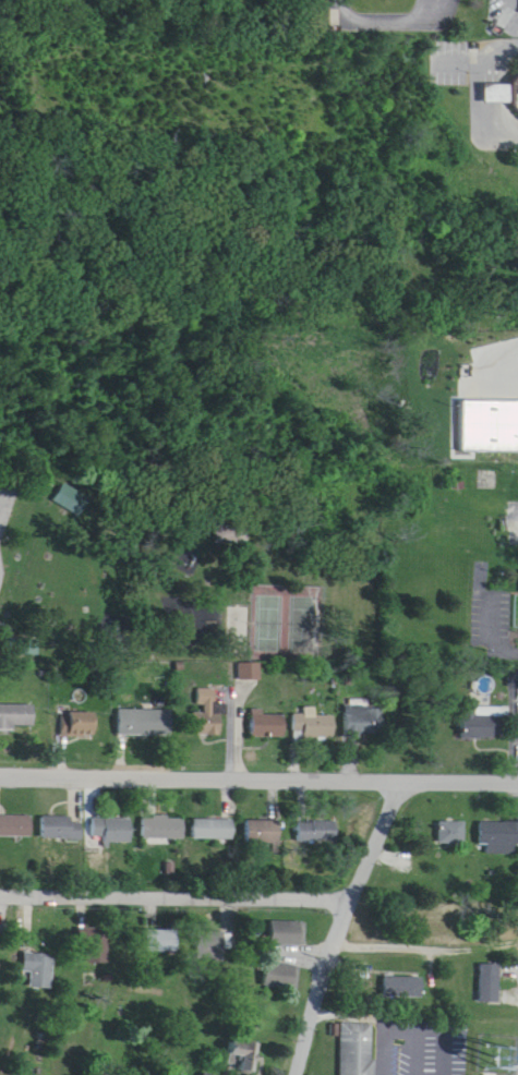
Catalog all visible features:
road: (482, 93)
building: (502, 96)
road: (505, 367)
park: (193, 394)
park: (7, 492)
park: (287, 612)
park: (238, 616)
building: (22, 631)
park: (22, 631)
road: (494, 632)
building: (17, 716)
building: (146, 723)
building: (207, 723)
building: (368, 723)
building: (483, 723)
building: (80, 725)
building: (268, 726)
building: (313, 726)
road: (258, 769)
building: (16, 828)
building: (62, 829)
building: (164, 829)
building: (113, 831)
building: (215, 831)
building: (317, 832)
building: (264, 833)
building: (449, 834)
building: (498, 838)
road: (178, 884)
road: (345, 921)
building: (432, 929)
building: (288, 934)
road: (429, 939)
building: (164, 942)
building: (97, 947)
building: (212, 951)
building: (41, 970)
building: (282, 977)
building: (487, 985)
building: (403, 989)
building: (358, 1050)
building: (243, 1055)
building: (205, 1074)

